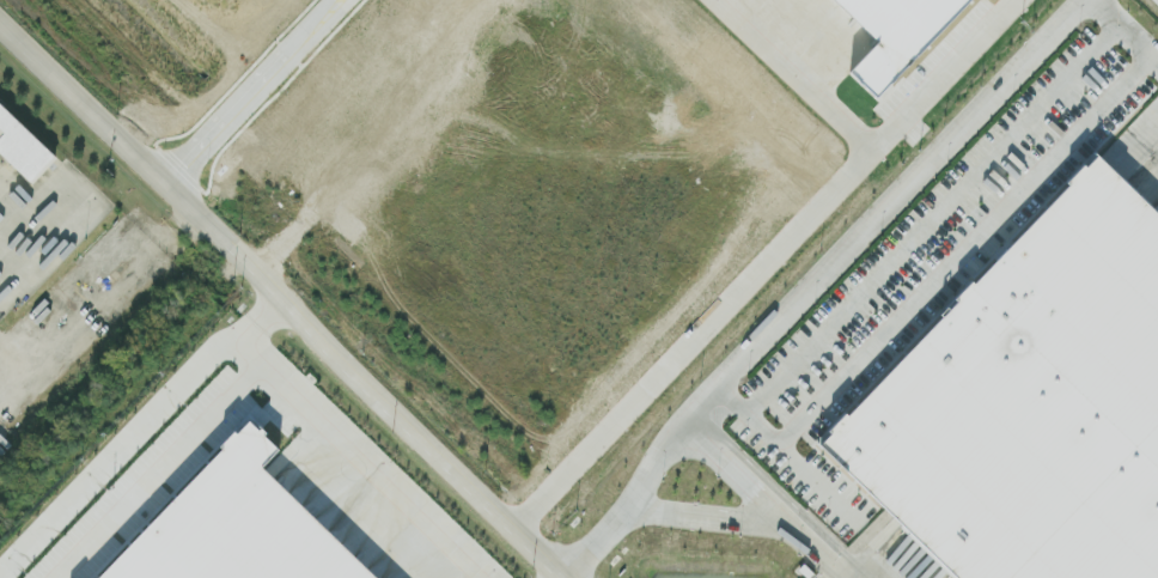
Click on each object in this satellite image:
road: (1126, 31)
road: (793, 78)
road: (255, 91)
building: (22, 146)
road: (28, 233)
road: (926, 237)
road: (947, 264)
road: (768, 266)
road: (818, 282)
road: (284, 298)
building: (1029, 402)
road: (136, 426)
road: (358, 456)
road: (740, 471)
road: (816, 480)
road: (701, 521)
building: (234, 525)
road: (823, 549)

